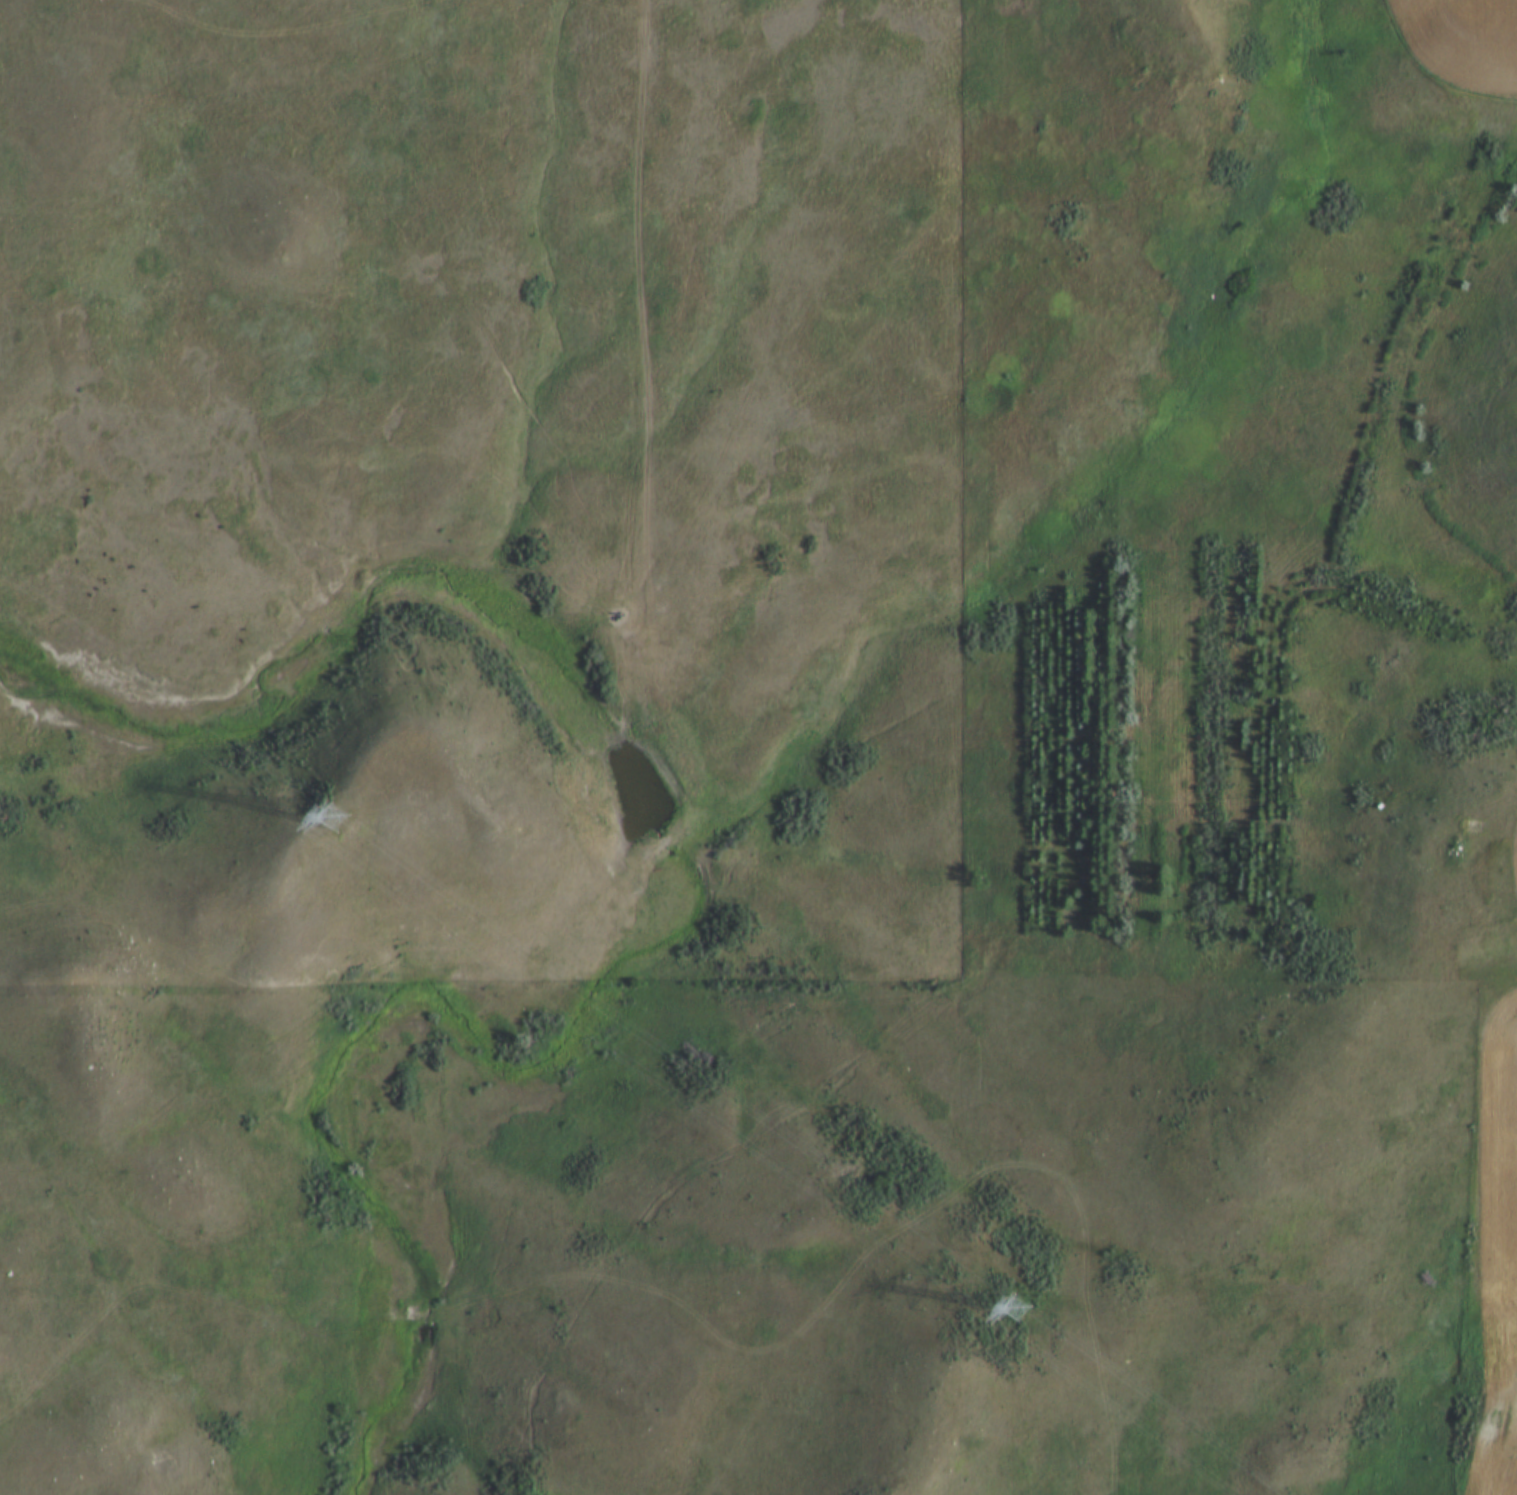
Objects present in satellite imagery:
road: (640, 274)
power tower: (342, 824)
power tower: (1026, 1314)

